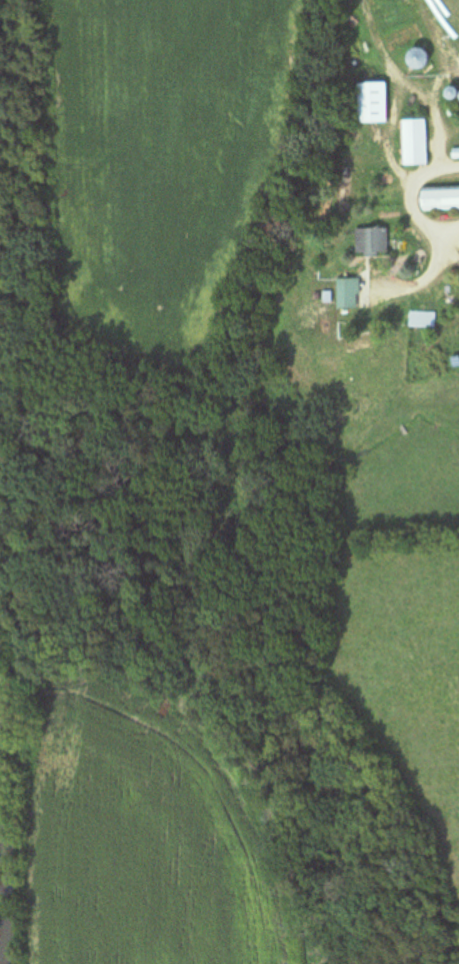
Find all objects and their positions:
building: (418, 58)
building: (372, 102)
building: (415, 142)
road: (412, 189)
building: (440, 198)
building: (372, 242)
building: (348, 293)
building: (422, 319)
river: (16, 870)

